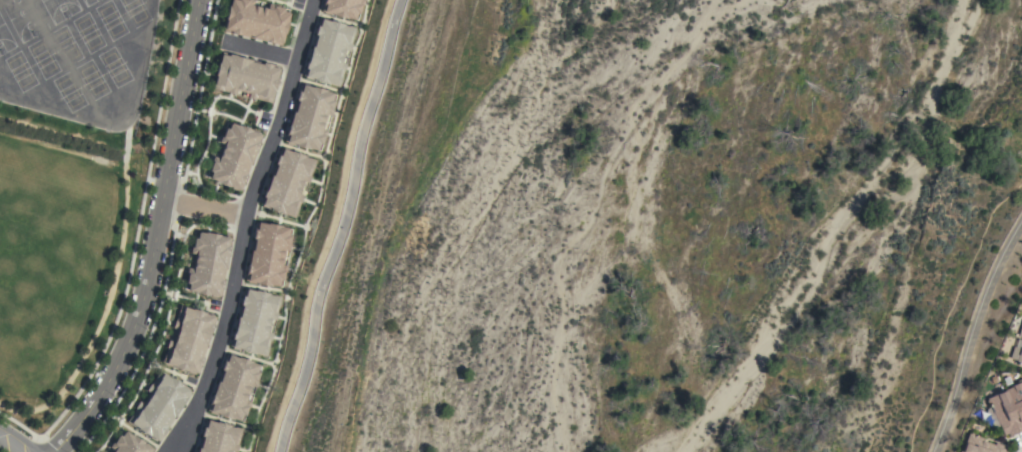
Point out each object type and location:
building: (341, 8)
building: (256, 21)
road: (263, 51)
building: (327, 52)
building: (245, 77)
building: (308, 117)
building: (234, 156)
building: (286, 182)
road: (204, 209)
road: (245, 223)
road: (341, 226)
road: (154, 238)
building: (267, 254)
building: (207, 264)
building: (254, 322)
building: (1020, 331)
road: (971, 333)
building: (190, 341)
building: (1016, 352)
building: (233, 388)
building: (159, 408)
building: (1008, 409)
road: (17, 438)
building: (218, 438)
building: (128, 444)
building: (980, 445)
road: (173, 449)
road: (181, 449)
building: (959, 451)

